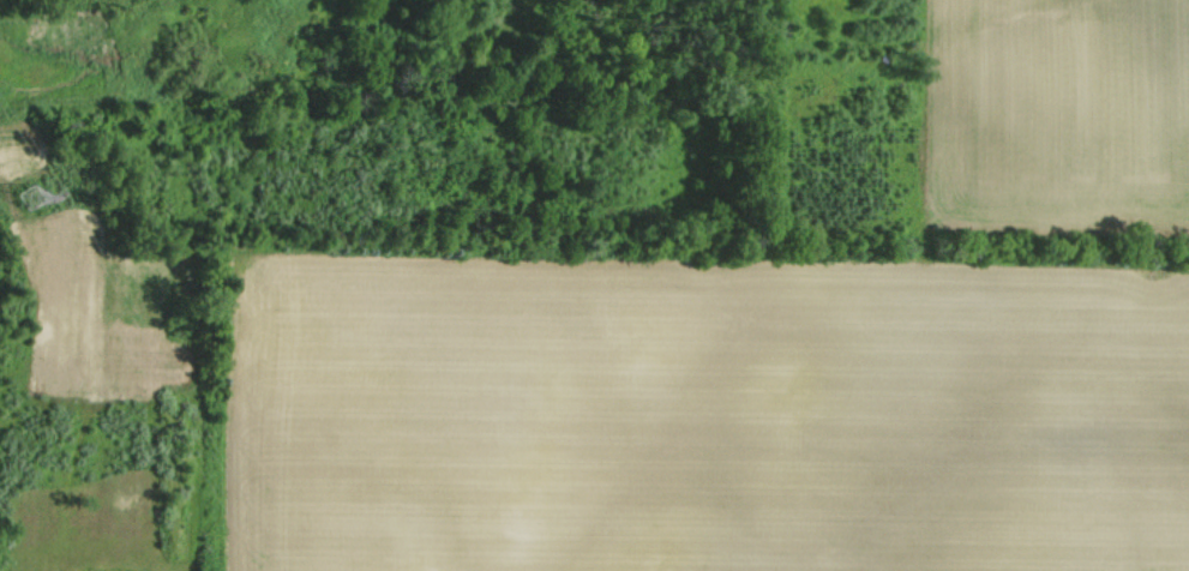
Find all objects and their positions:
power tower: (25, 203)

